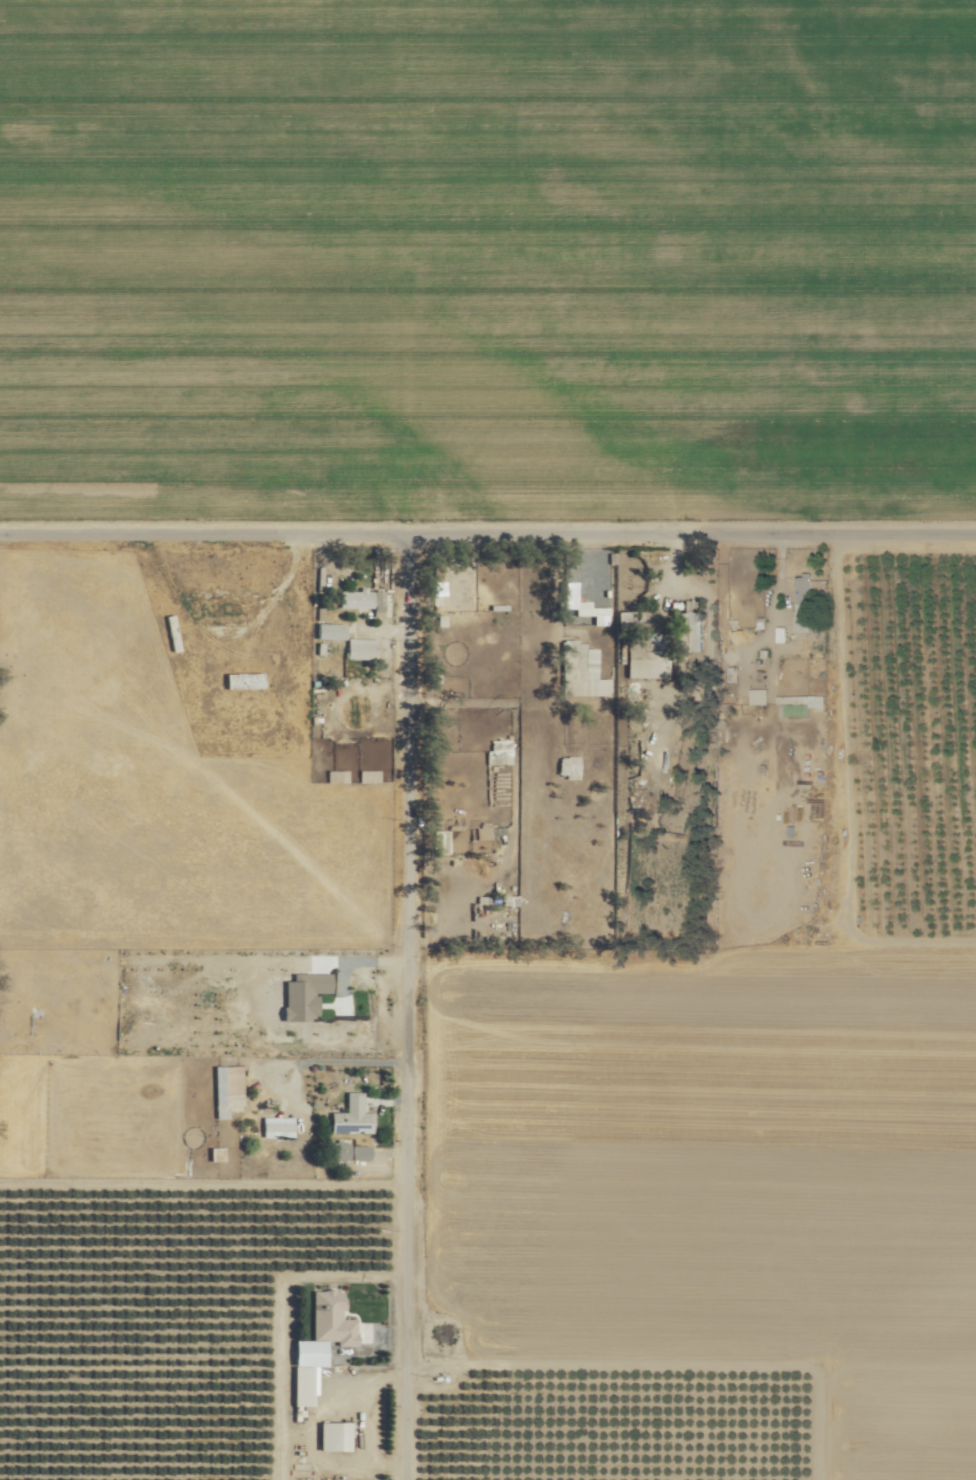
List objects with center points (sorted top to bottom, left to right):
crop: (486, 256)
road: (214, 522)
road: (702, 523)
building: (801, 588)
building: (376, 596)
building: (224, 606)
building: (329, 629)
building: (360, 646)
building: (584, 674)
building: (242, 679)
building: (757, 694)
building: (567, 765)
road: (422, 1001)
road: (338, 1058)
building: (350, 1115)
building: (276, 1125)
building: (349, 1150)
building: (327, 1301)
crop: (179, 1327)

